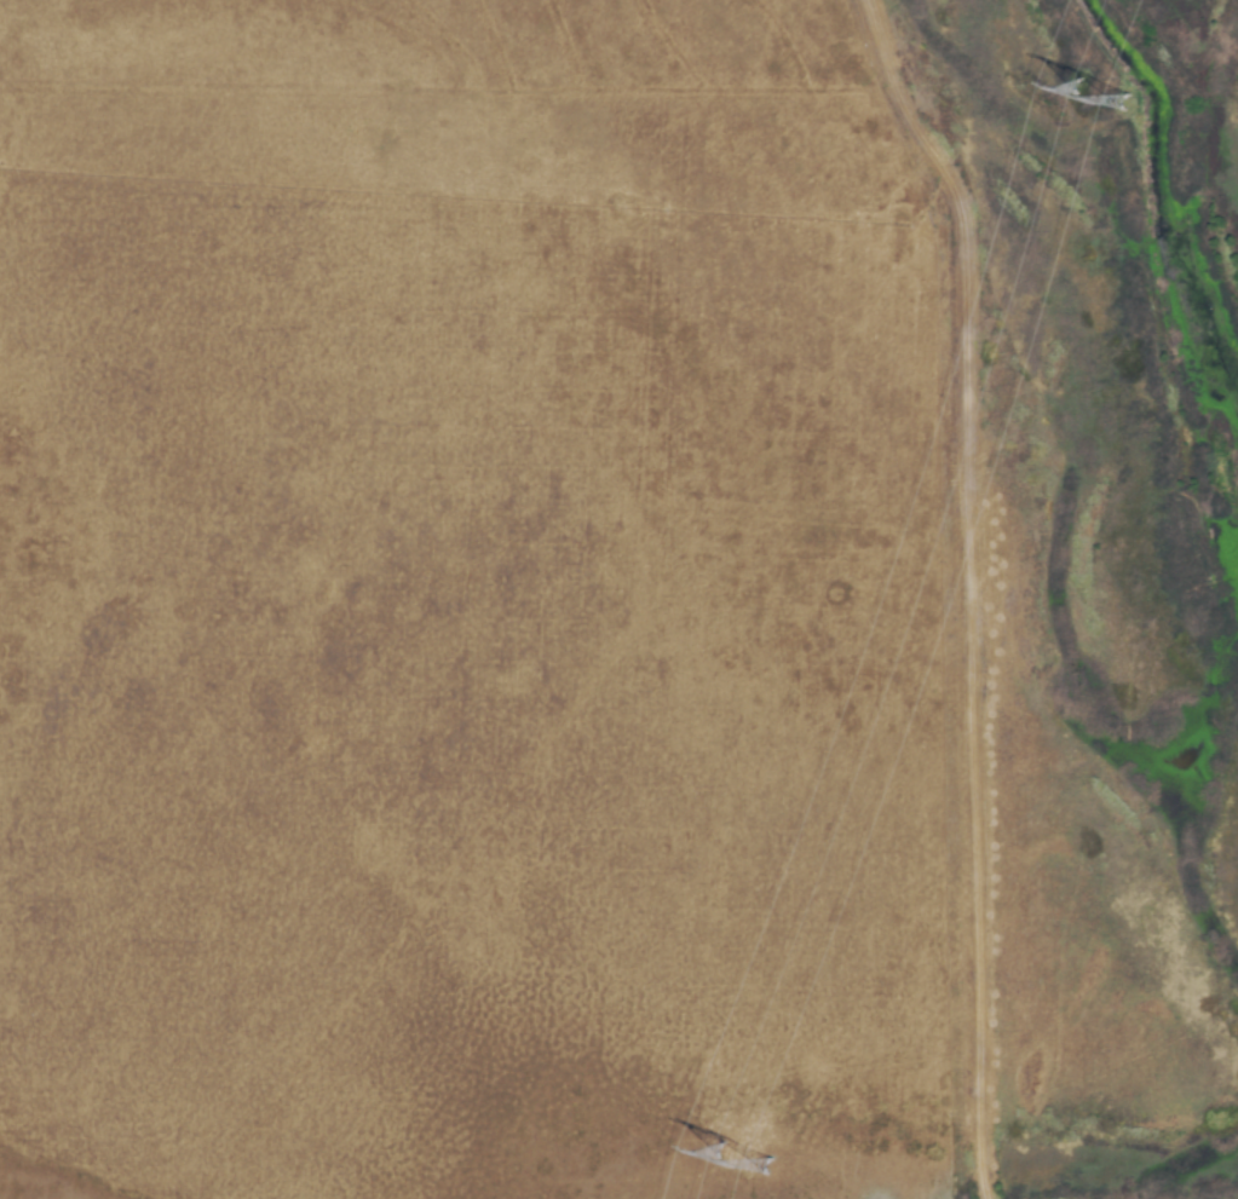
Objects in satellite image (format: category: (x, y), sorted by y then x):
power tower: (1100, 115)
power tower: (762, 1181)

